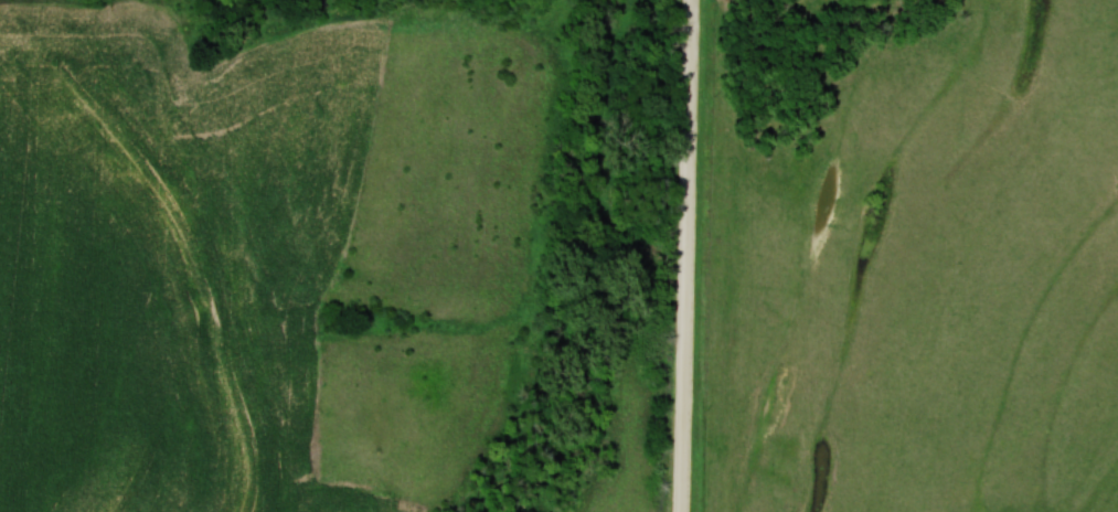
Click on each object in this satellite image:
road: (688, 256)

